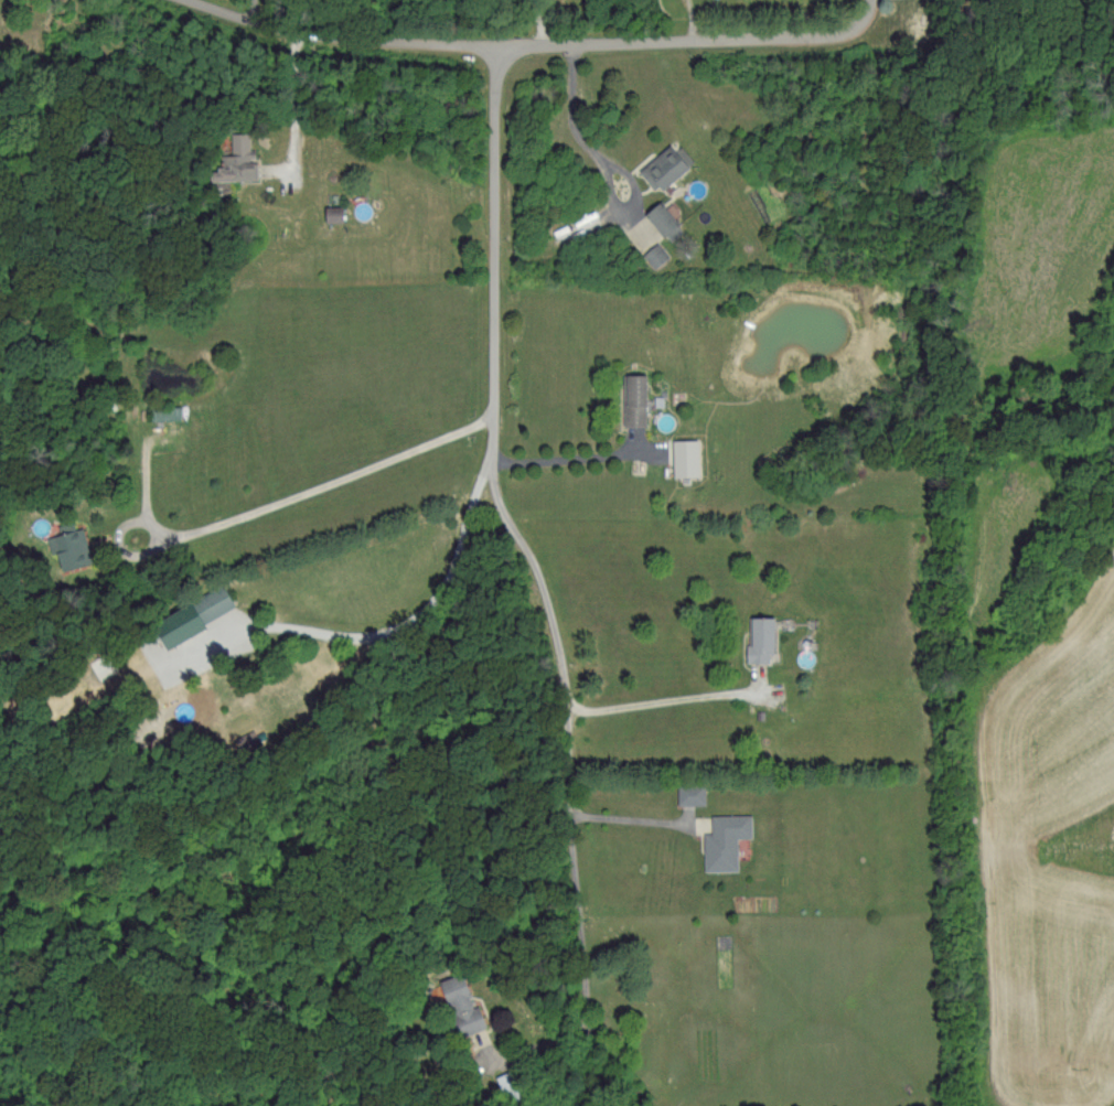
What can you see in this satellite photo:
road: (170, 4)
road: (536, 10)
road: (548, 10)
road: (253, 17)
road: (545, 35)
road: (534, 50)
road: (297, 126)
road: (578, 131)
building: (234, 160)
building: (662, 165)
building: (328, 213)
building: (660, 221)
building: (652, 254)
building: (632, 398)
building: (681, 457)
road: (565, 470)
road: (146, 477)
road: (299, 497)
building: (67, 545)
road: (539, 590)
building: (186, 615)
road: (396, 633)
building: (756, 638)
road: (670, 705)
building: (686, 793)
road: (633, 823)
building: (721, 840)
building: (458, 1006)

